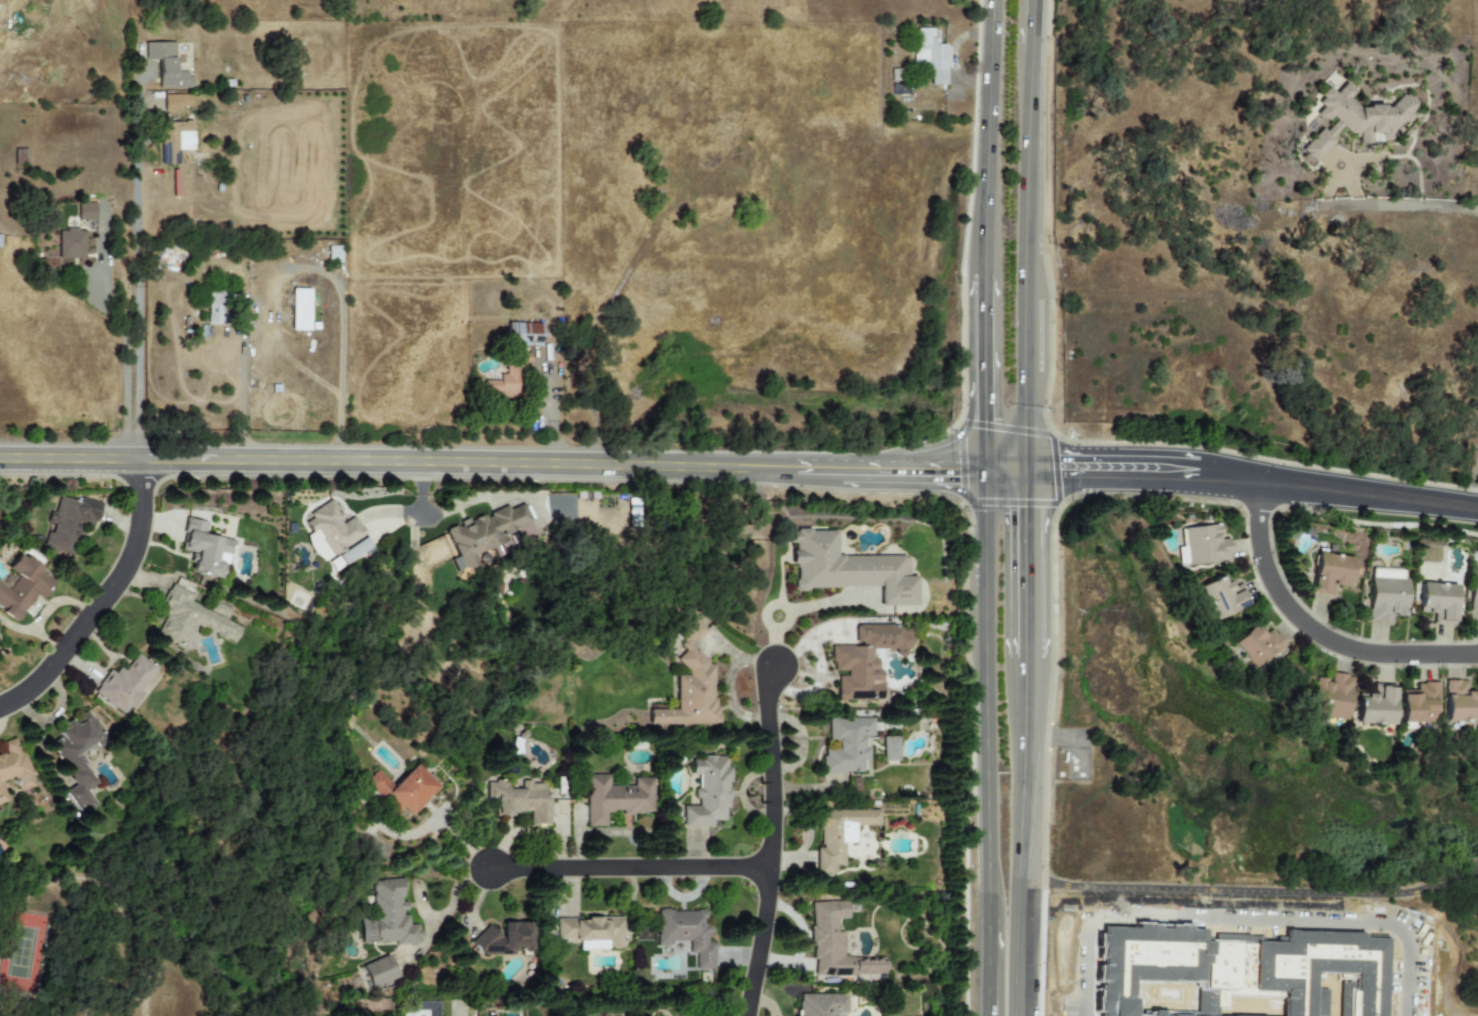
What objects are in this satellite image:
road: (1028, 25)
building: (931, 56)
building: (166, 65)
road: (970, 83)
building: (175, 101)
building: (1354, 120)
building: (174, 140)
road: (987, 140)
road: (1335, 159)
road: (1372, 161)
road: (1422, 171)
road: (1356, 194)
road: (1330, 195)
road: (1397, 209)
building: (86, 211)
road: (1030, 235)
building: (69, 243)
road: (137, 271)
building: (217, 308)
building: (299, 309)
building: (523, 334)
road: (126, 355)
road: (983, 375)
building: (502, 383)
road: (242, 398)
road: (554, 404)
traffic signals: (984, 418)
road: (492, 463)
traffic signals: (952, 469)
road: (1004, 470)
traffic signals: (1064, 471)
road: (1251, 480)
road: (422, 487)
road: (1474, 499)
road: (450, 510)
traffic signals: (1024, 516)
building: (68, 522)
building: (330, 531)
building: (484, 532)
building: (1202, 547)
building: (203, 548)
building: (354, 551)
building: (848, 568)
road: (1024, 572)
building: (1330, 572)
building: (1473, 583)
building: (23, 586)
building: (1386, 593)
building: (1221, 597)
road: (106, 598)
building: (1437, 601)
building: (192, 618)
road: (1315, 632)
building: (1256, 645)
building: (866, 660)
building: (125, 683)
building: (690, 684)
road: (985, 695)
building: (1331, 696)
building: (1459, 702)
building: (1375, 705)
building: (1418, 705)
road: (1062, 738)
building: (847, 744)
building: (889, 748)
building: (76, 758)
building: (14, 764)
building: (401, 789)
building: (708, 792)
building: (2, 795)
building: (615, 798)
building: (521, 800)
building: (838, 834)
road: (769, 843)
road: (1018, 844)
road: (632, 866)
road: (1475, 871)
road: (1249, 891)
building: (387, 916)
road: (1245, 922)
building: (592, 932)
building: (686, 934)
building: (505, 940)
building: (836, 945)
road: (988, 967)
building: (378, 971)
building: (819, 1004)
building: (427, 1007)

